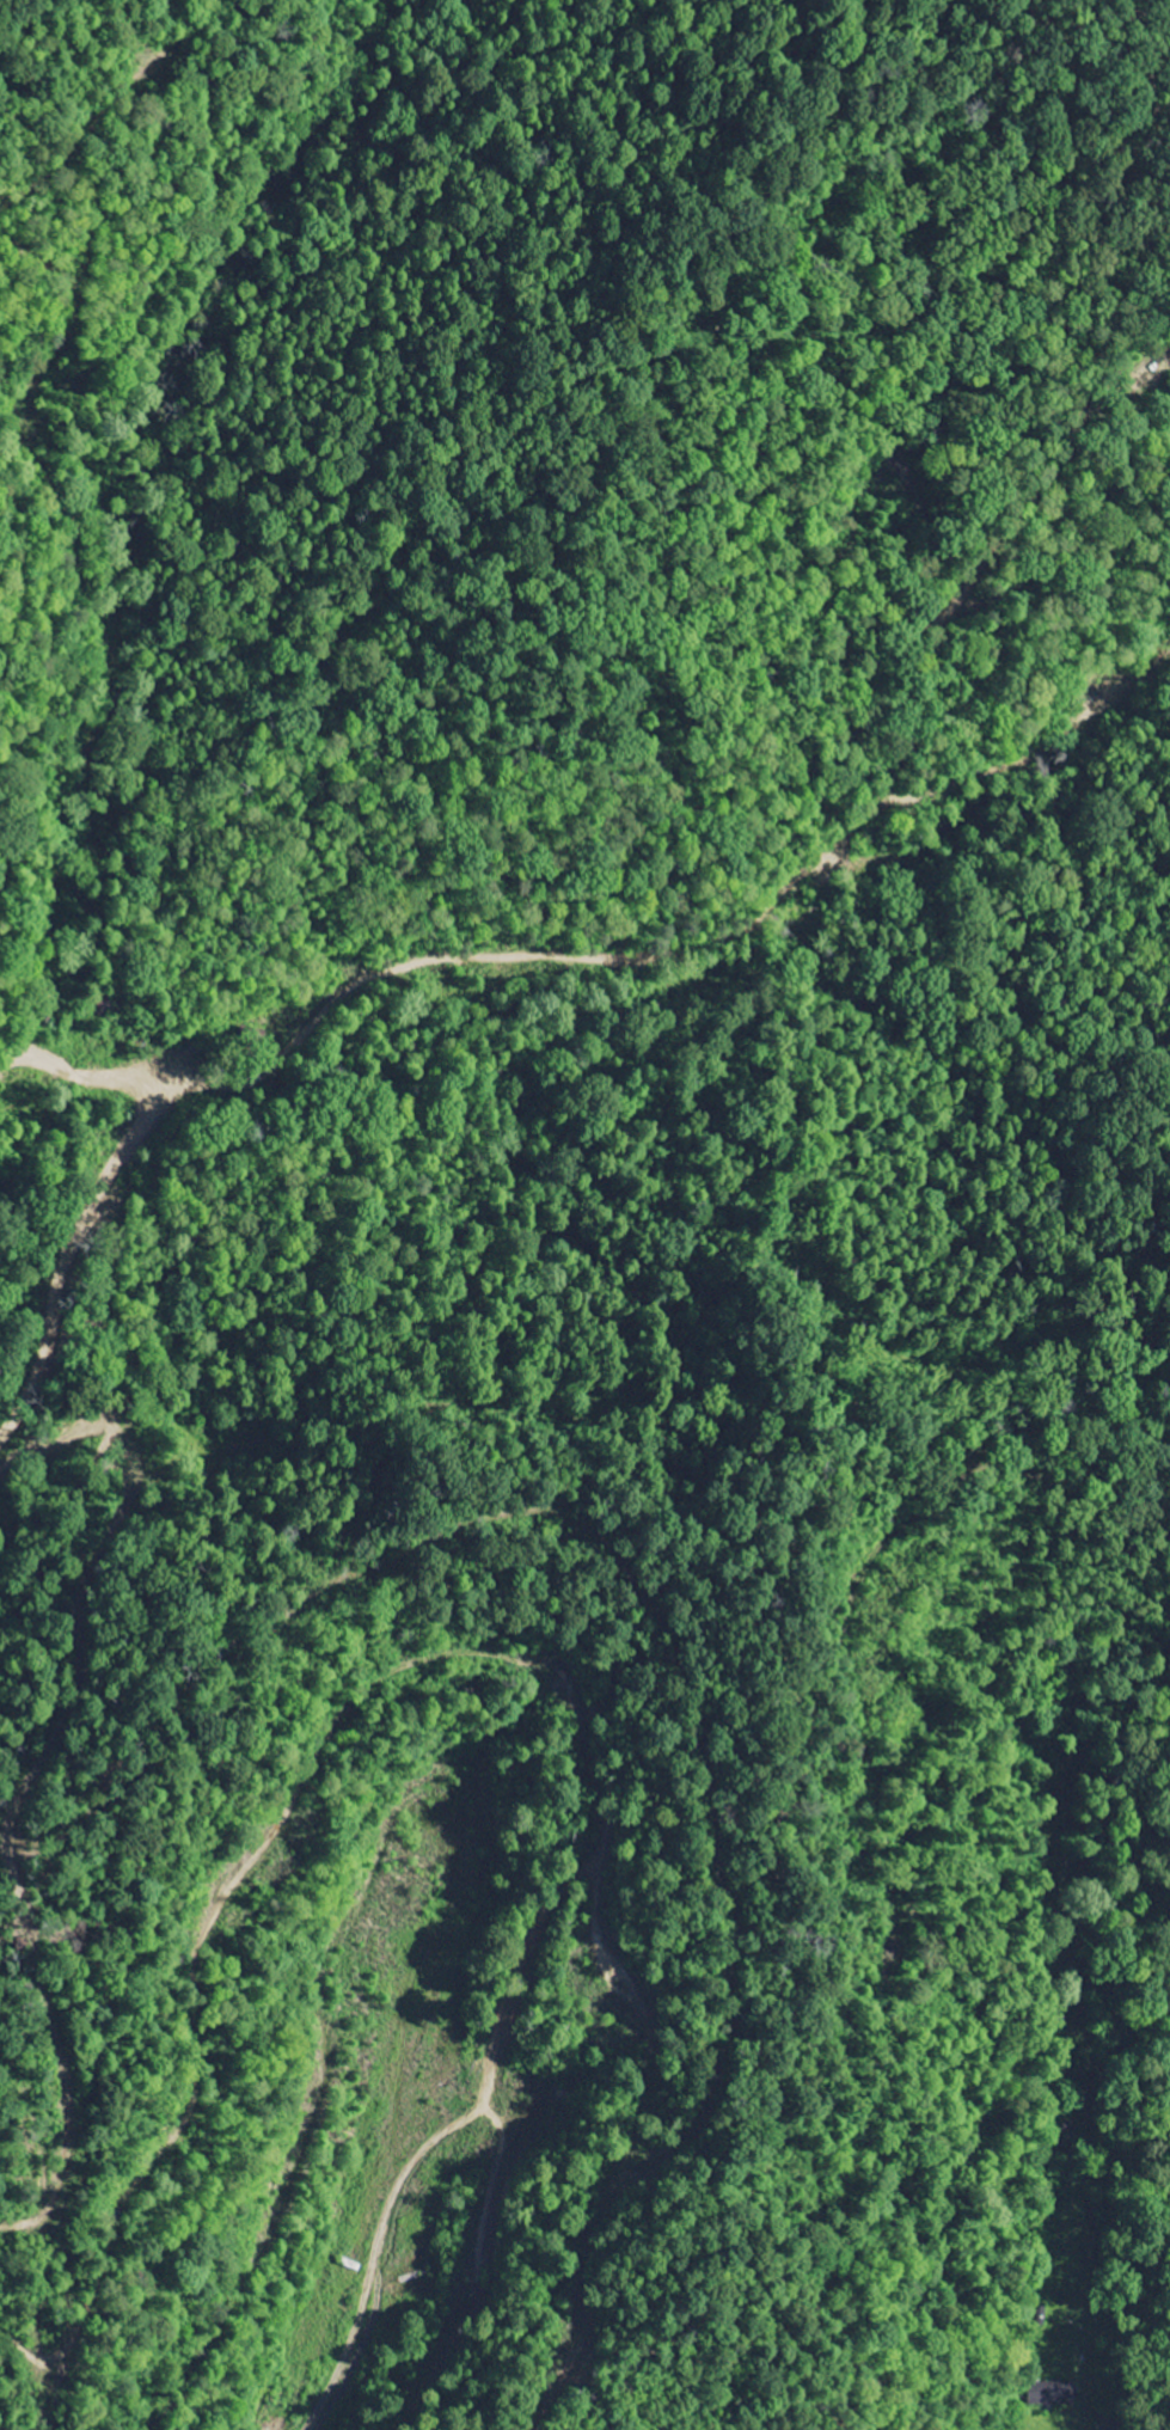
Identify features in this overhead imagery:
road: (1043, 2039)
building: (1049, 2394)

